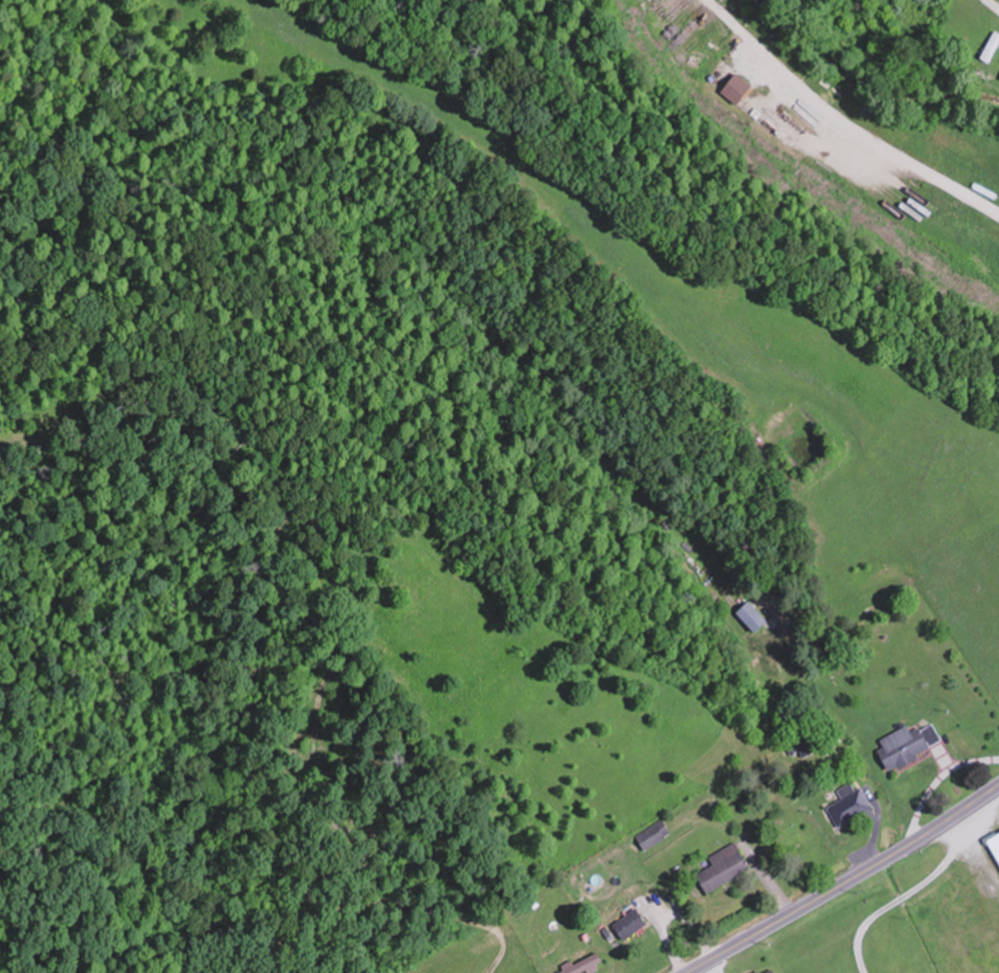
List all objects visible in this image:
building: (993, 45)
building: (737, 89)
building: (753, 616)
building: (910, 744)
building: (807, 746)
building: (851, 804)
building: (656, 834)
building: (995, 843)
building: (726, 866)
road: (844, 882)
building: (632, 922)
building: (585, 964)
building: (770, 970)

